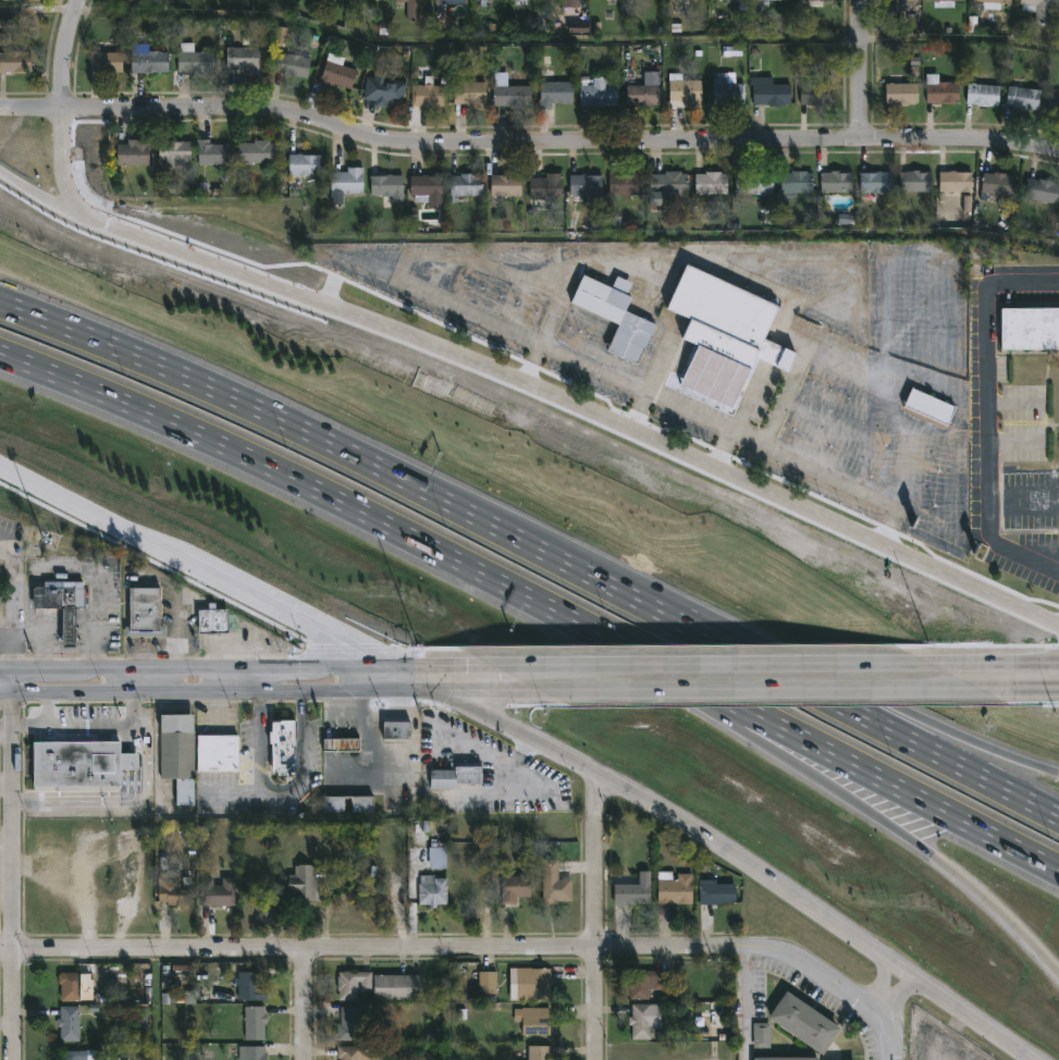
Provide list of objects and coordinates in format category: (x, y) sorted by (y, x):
building: (37, 0)
building: (491, 0)
building: (818, 0)
building: (731, 1)
building: (772, 1)
building: (454, 2)
building: (489, 3)
building: (759, 3)
building: (989, 3)
building: (895, 4)
building: (937, 7)
building: (414, 8)
road: (38, 10)
building: (1036, 10)
road: (63, 54)
building: (245, 59)
building: (16, 62)
building: (108, 62)
building: (151, 62)
building: (199, 63)
building: (295, 64)
road: (861, 70)
building: (338, 73)
building: (385, 89)
building: (555, 89)
building: (725, 89)
building: (682, 91)
building: (513, 93)
building: (767, 93)
building: (939, 93)
building: (472, 94)
building: (601, 94)
building: (898, 94)
building: (645, 95)
building: (814, 95)
building: (980, 95)
building: (429, 96)
building: (1020, 98)
building: (1051, 104)
road: (30, 114)
road: (557, 143)
building: (175, 152)
building: (259, 152)
building: (135, 153)
building: (216, 153)
building: (306, 164)
road: (63, 172)
building: (350, 182)
building: (793, 182)
building: (833, 182)
building: (912, 182)
building: (952, 182)
building: (752, 183)
building: (872, 183)
building: (713, 184)
building: (589, 185)
building: (628, 185)
building: (994, 185)
building: (468, 186)
building: (508, 186)
building: (390, 187)
building: (549, 187)
building: (668, 187)
building: (430, 190)
building: (1039, 192)
building: (966, 205)
road: (445, 301)
road: (34, 311)
road: (34, 315)
building: (620, 316)
road: (549, 326)
building: (1030, 329)
building: (718, 338)
road: (768, 357)
road: (803, 358)
road: (533, 390)
road: (1013, 403)
building: (924, 407)
road: (638, 412)
road: (740, 418)
road: (988, 418)
road: (843, 428)
road: (317, 436)
road: (1013, 443)
road: (306, 485)
road: (4, 556)
road: (60, 566)
road: (195, 570)
building: (61, 605)
road: (13, 608)
building: (145, 609)
building: (213, 623)
road: (175, 633)
road: (741, 633)
road: (993, 662)
road: (759, 663)
road: (541, 664)
road: (246, 669)
road: (415, 678)
road: (250, 680)
road: (143, 682)
road: (1019, 688)
road: (761, 689)
road: (810, 689)
road: (271, 692)
road: (706, 707)
road: (47, 710)
road: (132, 710)
road: (73, 725)
building: (401, 729)
road: (515, 731)
road: (132, 739)
building: (345, 743)
building: (287, 745)
road: (987, 747)
building: (221, 753)
road: (830, 753)
building: (181, 755)
building: (85, 763)
road: (132, 763)
building: (472, 774)
road: (360, 775)
building: (444, 778)
road: (232, 791)
road: (281, 796)
road: (455, 798)
road: (88, 801)
building: (352, 803)
building: (436, 853)
road: (735, 862)
road: (945, 865)
road: (19, 866)
building: (309, 882)
building: (557, 883)
building: (518, 887)
building: (636, 888)
building: (677, 888)
building: (435, 890)
building: (177, 891)
building: (219, 891)
building: (716, 892)
road: (596, 915)
road: (373, 948)
road: (897, 969)
road: (839, 982)
road: (882, 982)
building: (490, 983)
building: (535, 983)
building: (647, 983)
building: (356, 984)
building: (74, 985)
building: (253, 987)
building: (401, 987)
road: (895, 991)
road: (306, 1003)
road: (746, 1003)
building: (535, 1020)
building: (803, 1020)
building: (645, 1021)
road: (974, 1022)
building: (71, 1023)
building: (257, 1023)
building: (353, 1024)
building: (761, 1035)
building: (254, 1052)
building: (352, 1052)
building: (542, 1052)
building: (74, 1055)
building: (787, 1058)

